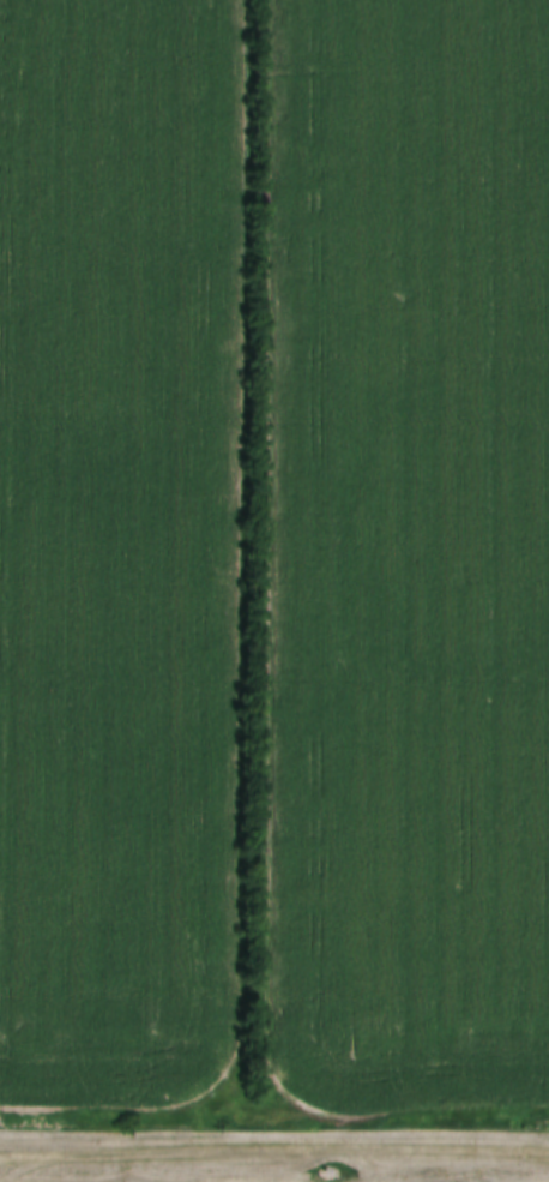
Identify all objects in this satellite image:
road: (274, 1146)

